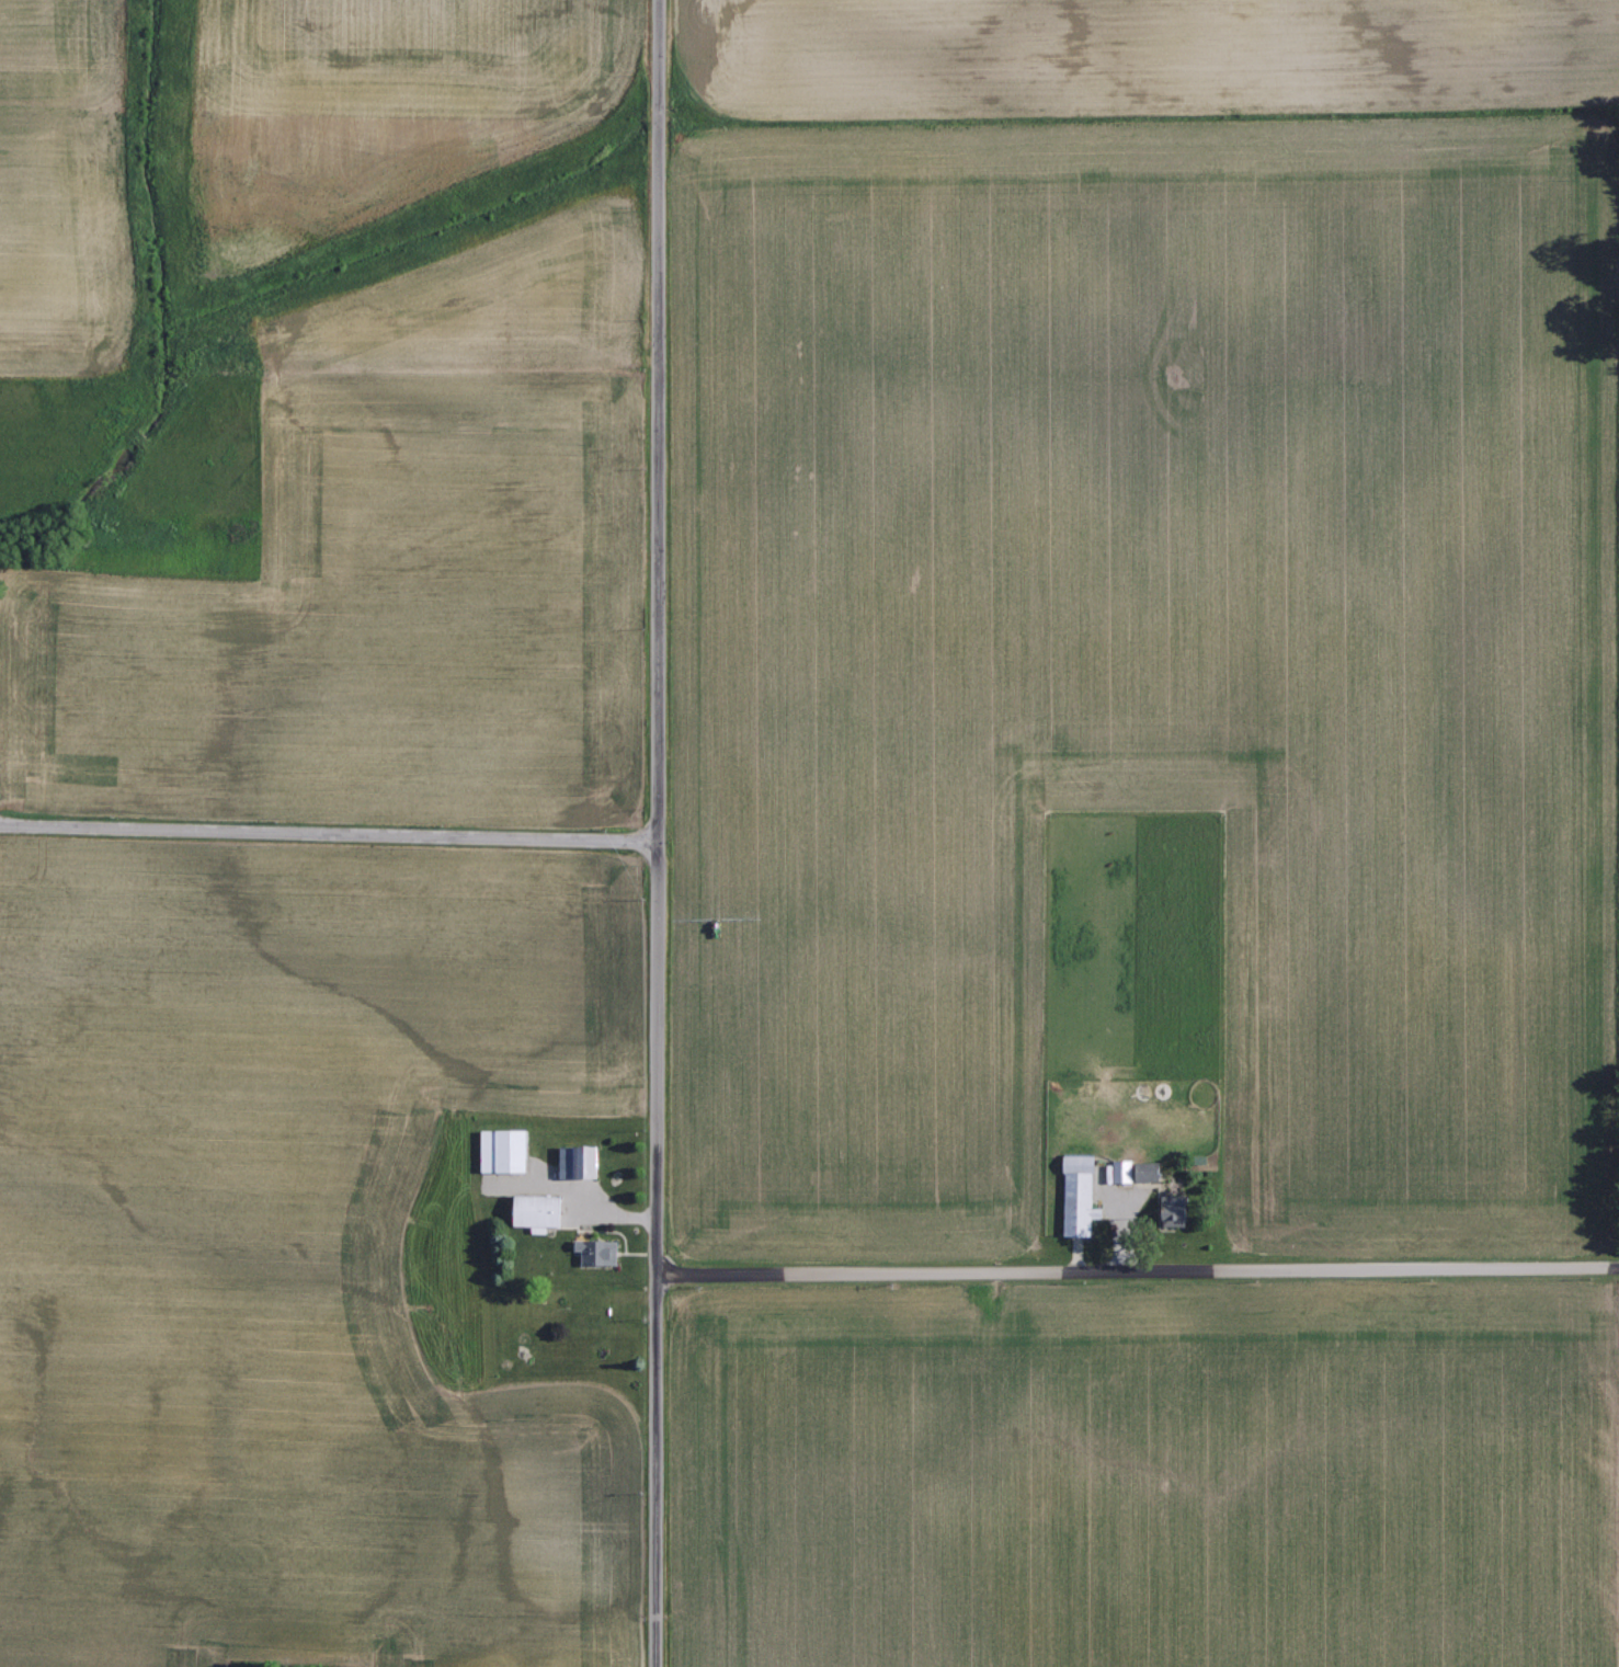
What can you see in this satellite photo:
road: (328, 827)
road: (657, 833)
building: (508, 1151)
building: (581, 1162)
building: (1126, 1171)
building: (1152, 1172)
building: (1082, 1196)
building: (541, 1211)
building: (1179, 1211)
building: (601, 1252)
road: (1137, 1265)

